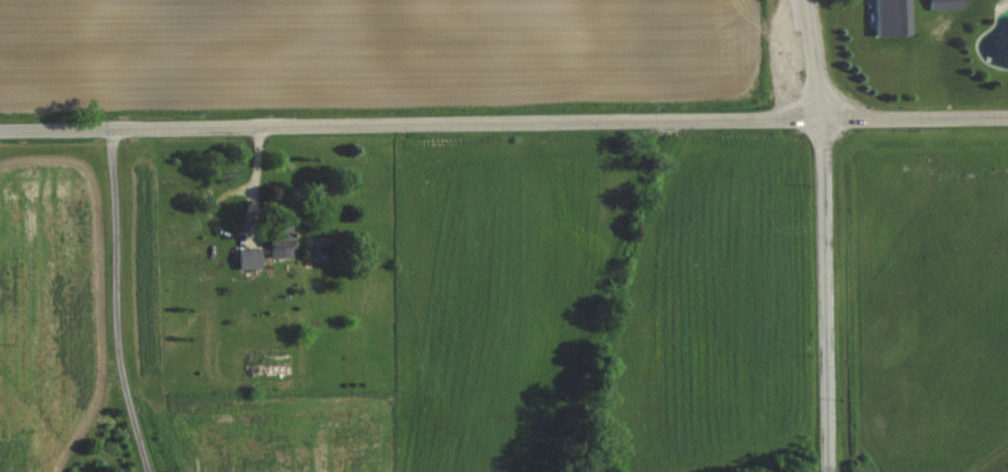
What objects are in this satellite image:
building: (947, 4)
building: (900, 17)
road: (503, 121)
road: (825, 235)
building: (280, 242)
building: (250, 257)
road: (120, 301)

